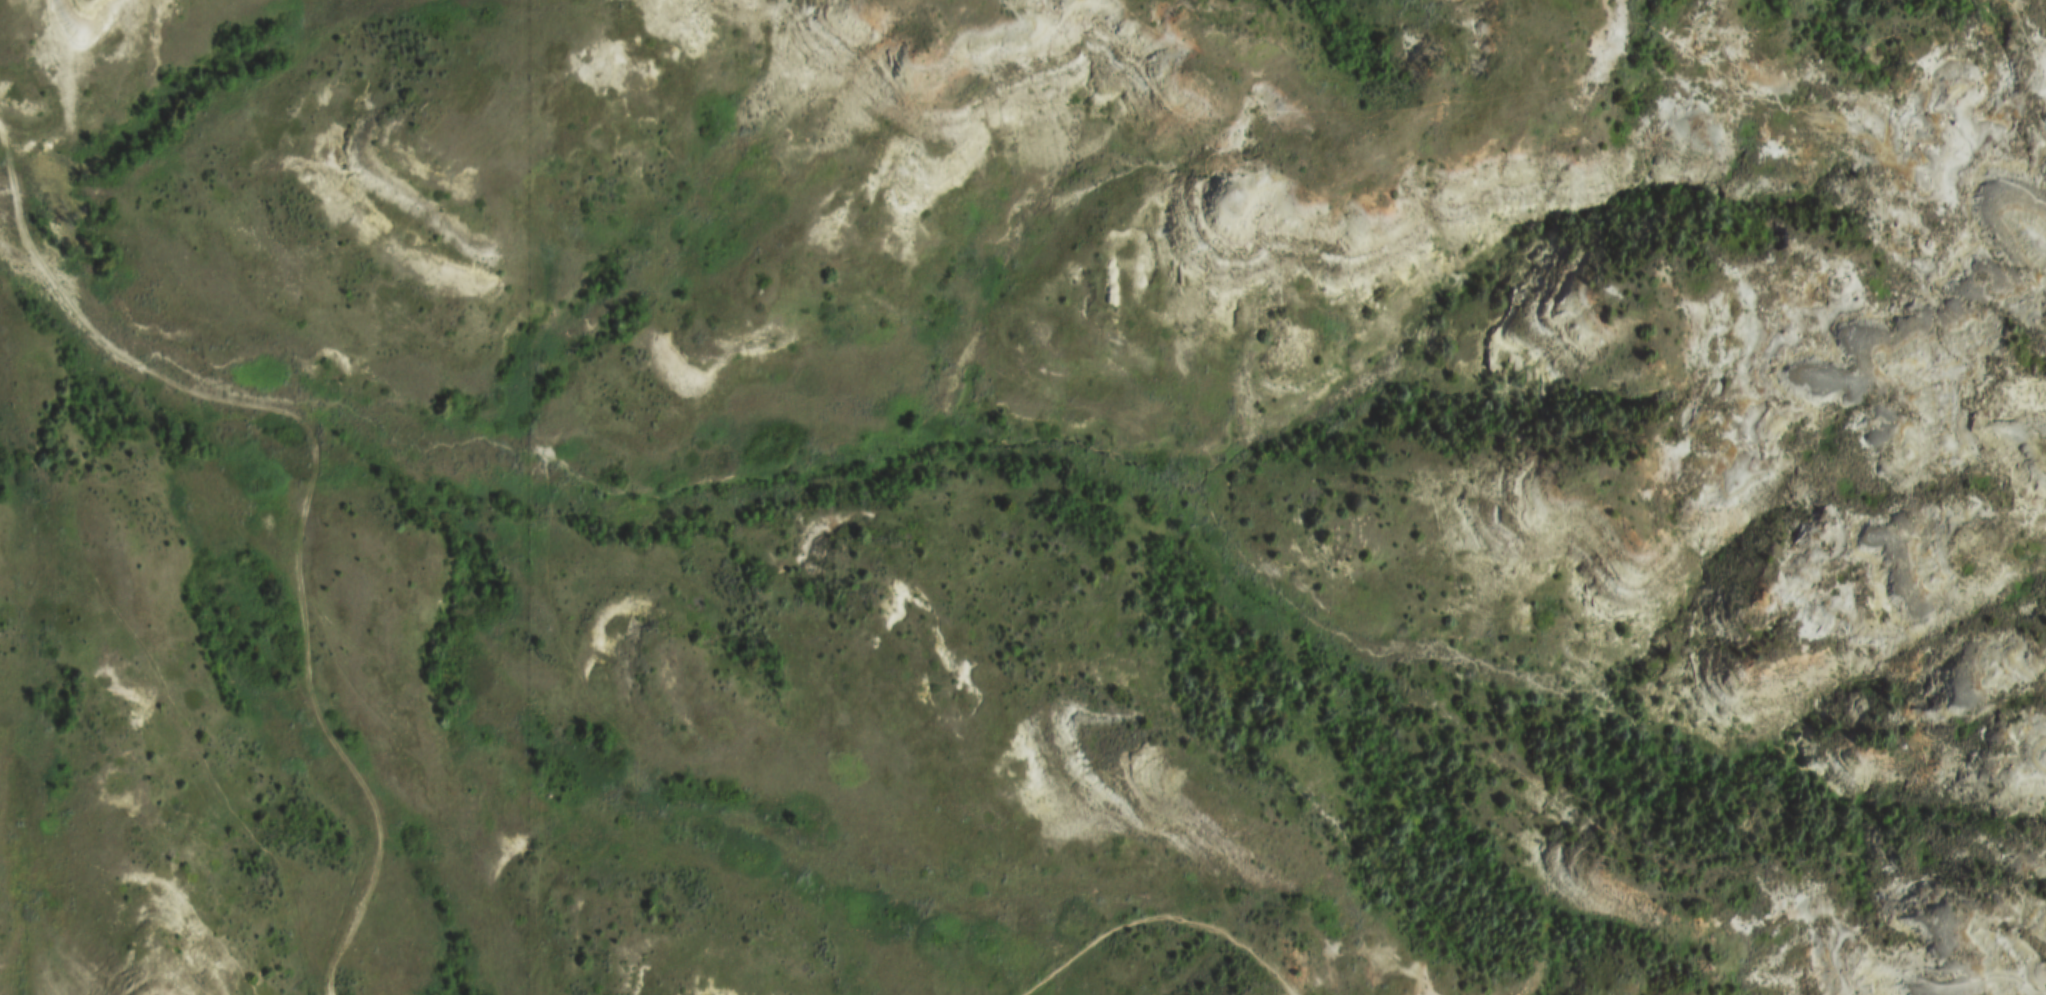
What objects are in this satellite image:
road: (204, 131)
road: (304, 497)
road: (1158, 916)
road: (1912, 980)

